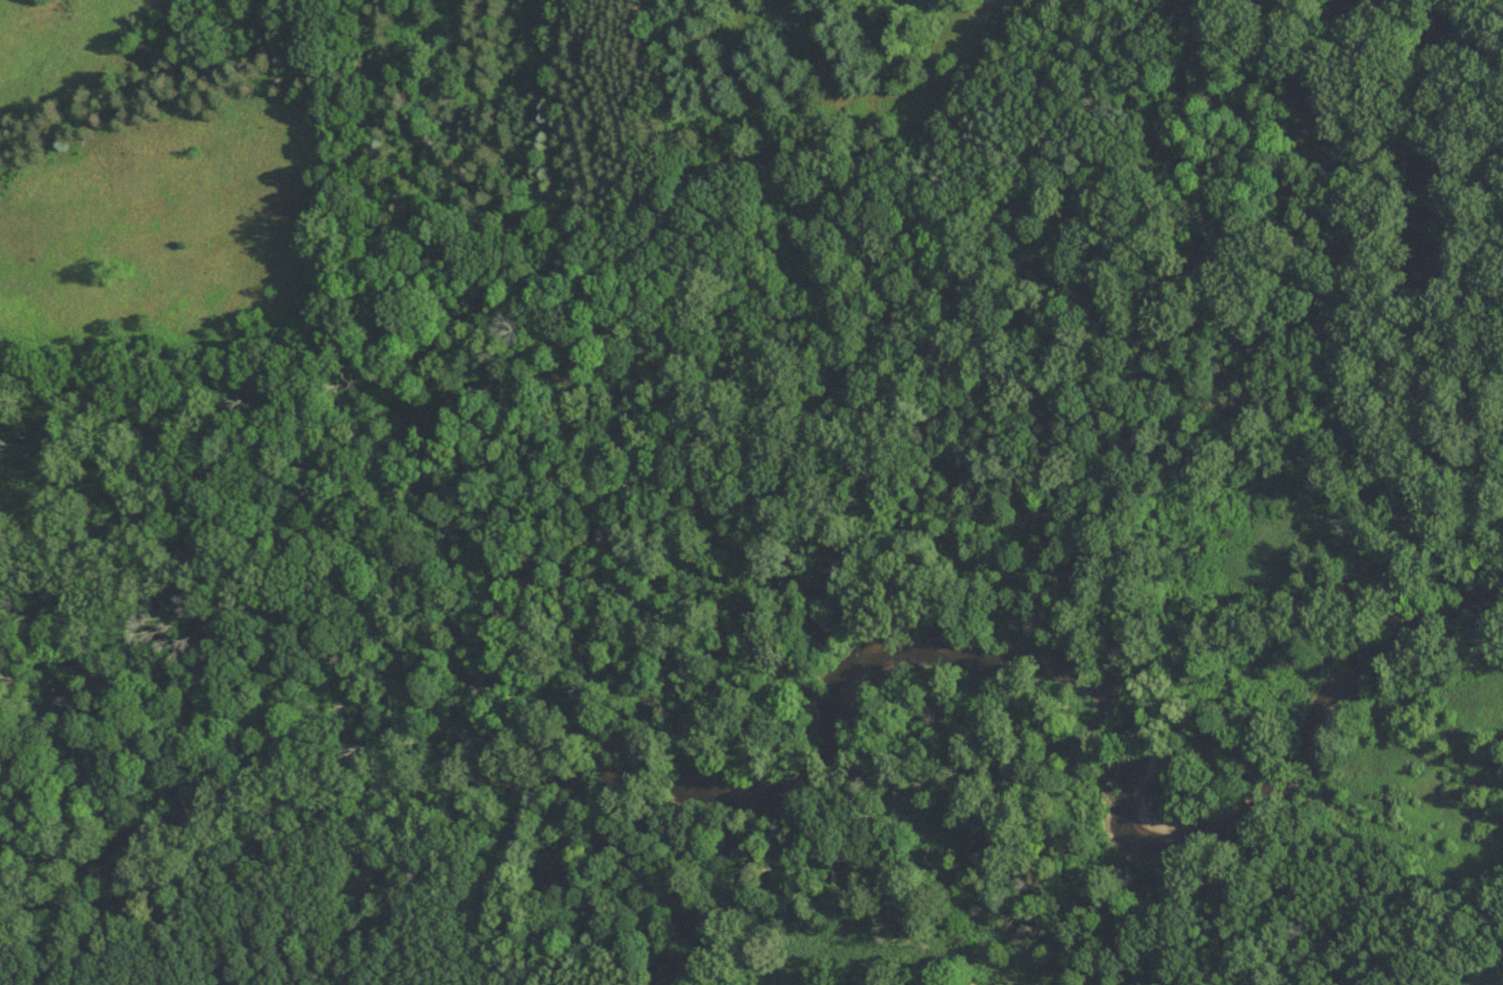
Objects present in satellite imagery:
road: (515, 202)
river: (1435, 294)
road: (765, 652)
road: (1251, 696)
river: (849, 718)

